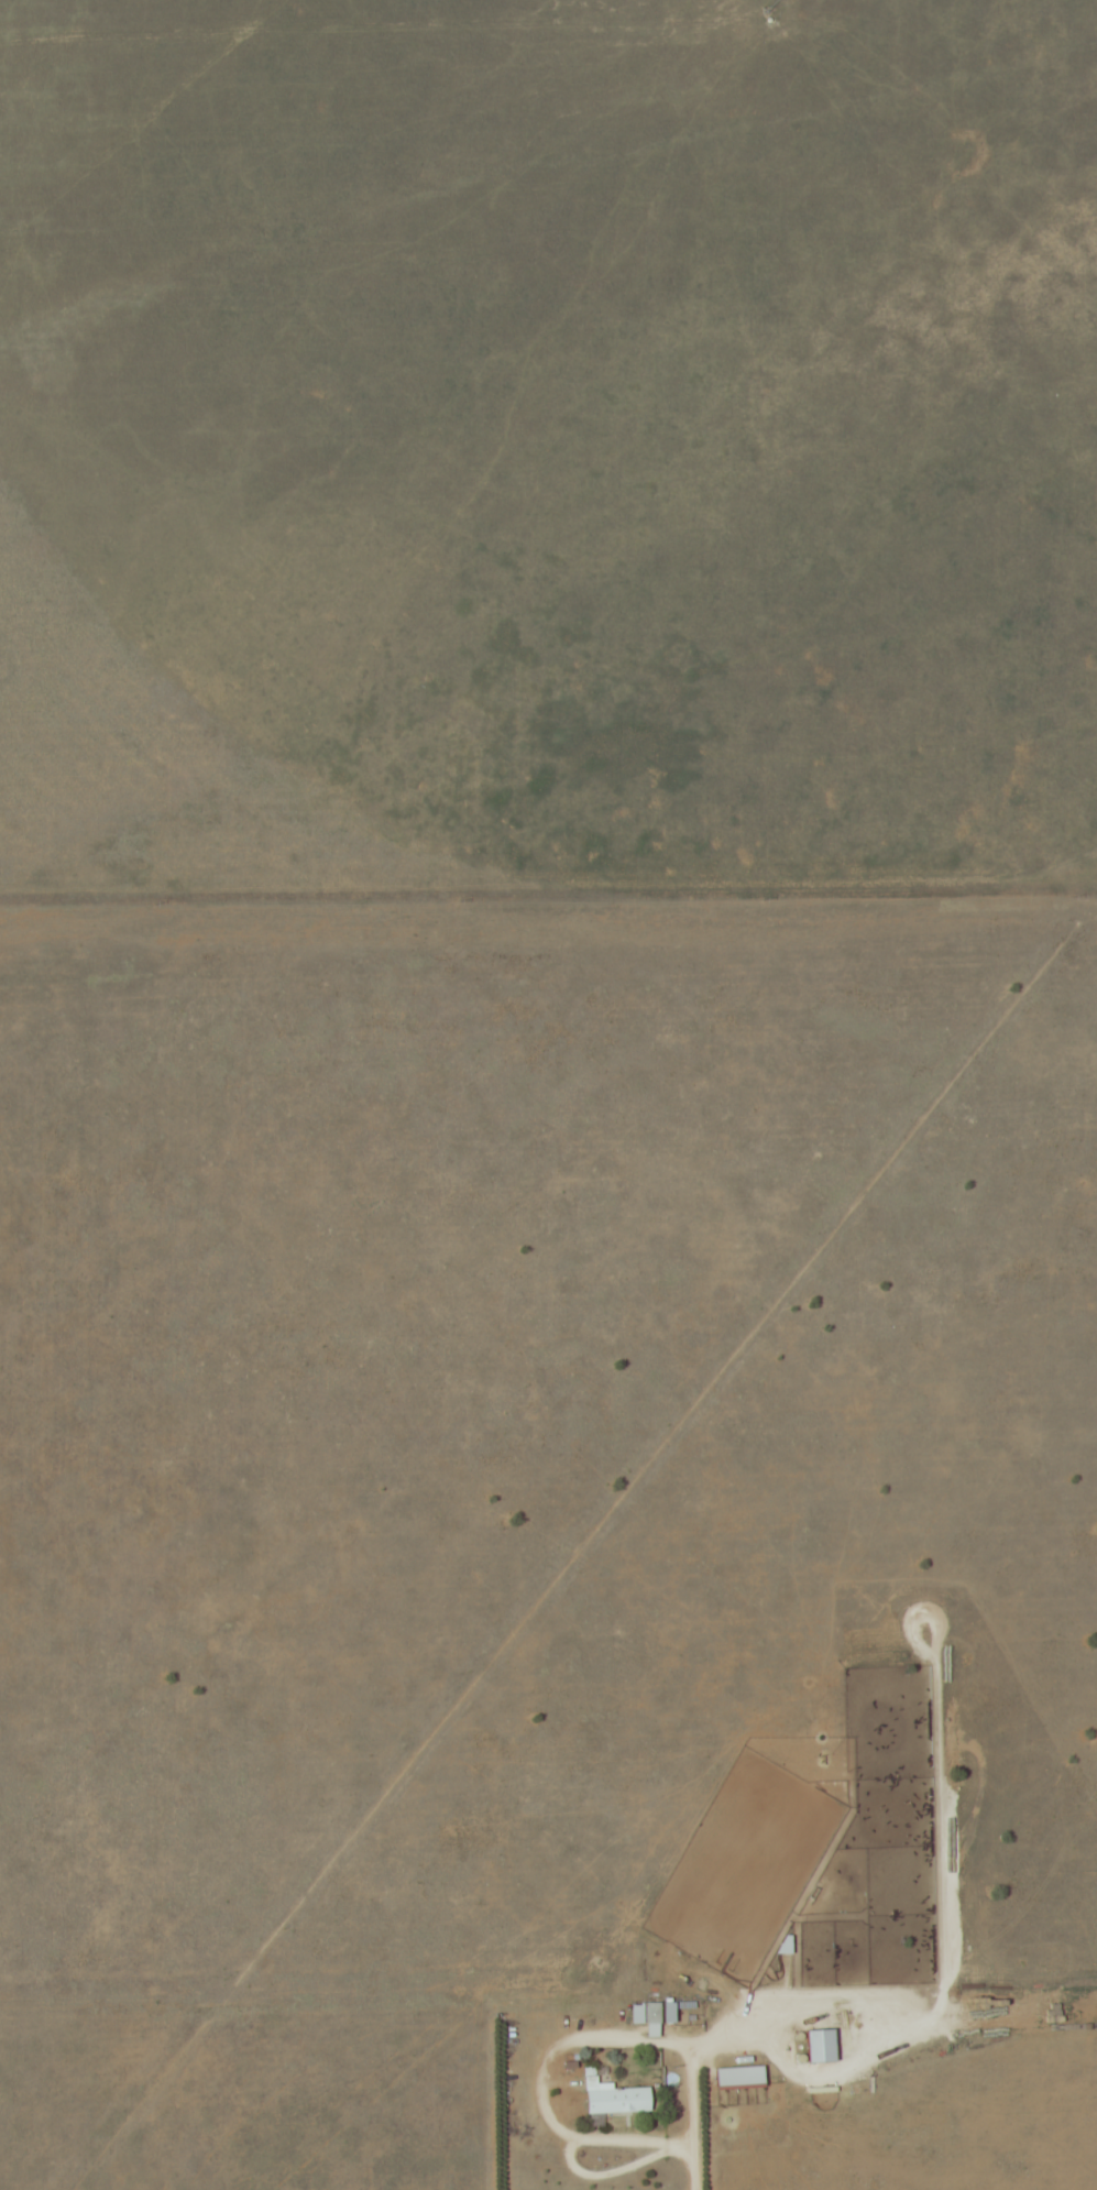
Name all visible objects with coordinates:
building: (816, 2048)
road: (542, 2092)
building: (612, 2100)
road: (694, 2118)

